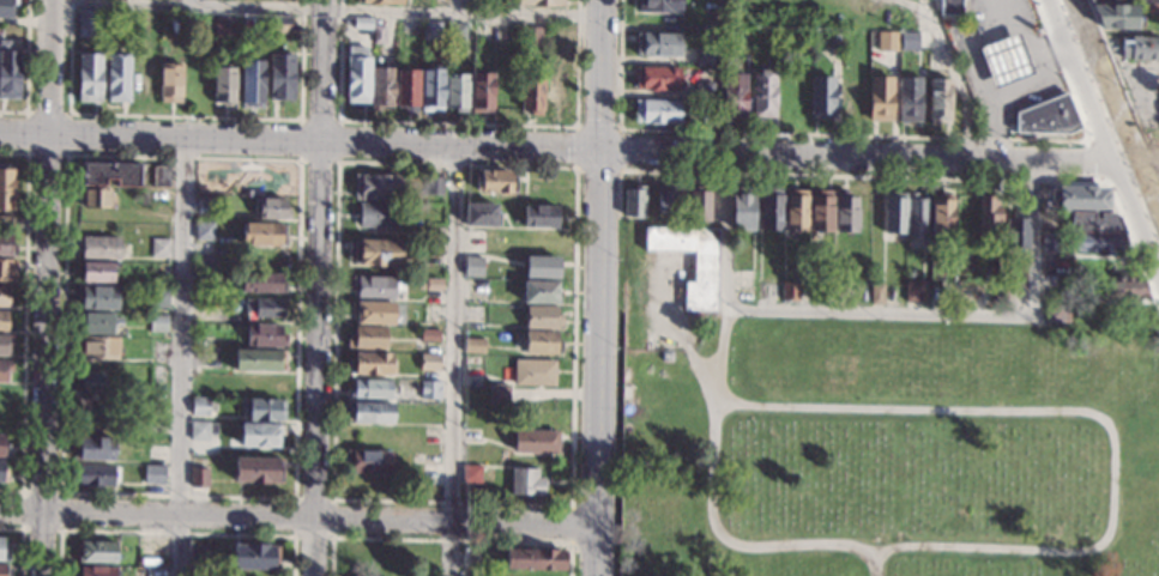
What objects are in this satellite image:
building: (1127, 1)
road: (185, 2)
building: (381, 2)
building: (481, 2)
building: (539, 2)
road: (458, 6)
building: (659, 6)
building: (7, 7)
building: (949, 7)
building: (1149, 8)
road: (326, 10)
building: (1115, 17)
building: (87, 23)
building: (362, 23)
building: (149, 24)
building: (280, 24)
building: (222, 25)
building: (250, 28)
building: (718, 28)
building: (431, 31)
building: (490, 32)
road: (1000, 32)
building: (379, 35)
building: (455, 35)
building: (531, 36)
building: (799, 37)
building: (834, 40)
building: (888, 40)
building: (909, 40)
building: (658, 44)
building: (1140, 49)
building: (785, 50)
building: (704, 57)
building: (1004, 61)
gas station: (1004, 61)
building: (8, 72)
building: (357, 75)
road: (600, 75)
road: (1002, 75)
building: (89, 77)
building: (282, 77)
building: (117, 78)
road: (1117, 78)
building: (657, 79)
road: (955, 79)
building: (143, 80)
road: (1095, 81)
building: (170, 83)
building: (250, 84)
building: (223, 86)
building: (381, 87)
building: (406, 90)
building: (431, 90)
building: (457, 91)
building: (482, 91)
building: (704, 92)
building: (792, 93)
building: (734, 95)
building: (763, 95)
building: (531, 96)
building: (821, 97)
building: (850, 97)
building: (556, 98)
building: (880, 98)
building: (910, 99)
building: (938, 101)
building: (657, 111)
road: (68, 114)
building: (1048, 117)
road: (338, 120)
road: (617, 129)
road: (1089, 140)
road: (300, 143)
road: (864, 158)
road: (1143, 164)
building: (109, 174)
road: (909, 175)
building: (161, 176)
road: (1155, 180)
road: (1157, 180)
building: (496, 183)
building: (433, 184)
building: (6, 188)
building: (378, 188)
building: (97, 198)
building: (1076, 199)
building: (668, 200)
road: (1143, 200)
building: (634, 202)
building: (699, 205)
building: (204, 206)
building: (271, 210)
building: (743, 210)
building: (771, 210)
building: (821, 211)
building: (795, 212)
building: (894, 213)
building: (845, 214)
building: (941, 214)
building: (379, 216)
building: (481, 216)
building: (541, 217)
building: (917, 217)
building: (965, 218)
building: (988, 219)
building: (1094, 223)
building: (5, 224)
building: (204, 231)
building: (1016, 232)
building: (264, 234)
building: (1049, 241)
building: (1098, 243)
building: (6, 245)
building: (98, 247)
building: (159, 248)
building: (375, 251)
building: (545, 265)
building: (473, 266)
building: (705, 267)
building: (7, 269)
building: (96, 272)
building: (910, 273)
building: (261, 283)
building: (433, 285)
road: (48, 287)
road: (320, 287)
building: (376, 287)
building: (1119, 287)
building: (766, 290)
building: (790, 291)
building: (912, 291)
building: (541, 292)
building: (821, 292)
building: (745, 295)
building: (876, 295)
building: (4, 297)
building: (96, 298)
building: (158, 298)
building: (264, 307)
road: (882, 311)
building: (373, 313)
building: (1055, 314)
building: (541, 317)
road: (24, 319)
building: (2, 321)
building: (157, 323)
building: (97, 325)
building: (197, 334)
road: (683, 334)
building: (265, 335)
building: (429, 336)
building: (367, 338)
building: (541, 341)
building: (5, 344)
building: (473, 345)
building: (96, 347)
road: (725, 354)
road: (180, 357)
building: (259, 360)
building: (429, 362)
road: (454, 362)
road: (599, 364)
building: (370, 365)
building: (5, 369)
building: (535, 372)
building: (92, 386)
building: (262, 386)
building: (372, 388)
building: (429, 390)
building: (499, 394)
building: (201, 406)
building: (264, 410)
road: (942, 410)
building: (368, 413)
building: (200, 431)
building: (260, 435)
building: (535, 442)
building: (2, 448)
building: (92, 448)
park: (897, 448)
building: (431, 459)
building: (368, 462)
building: (258, 471)
building: (2, 474)
building: (153, 474)
building: (471, 474)
building: (91, 475)
building: (198, 478)
building: (526, 483)
road: (294, 498)
road: (571, 504)
road: (298, 519)
road: (22, 525)
road: (572, 525)
road: (174, 532)
road: (295, 535)
road: (448, 539)
road: (22, 540)
building: (96, 552)
building: (4, 553)
building: (198, 556)
building: (150, 557)
building: (254, 557)
building: (535, 559)
road: (875, 563)
building: (2, 570)
building: (96, 571)
building: (152, 572)
building: (533, 574)

